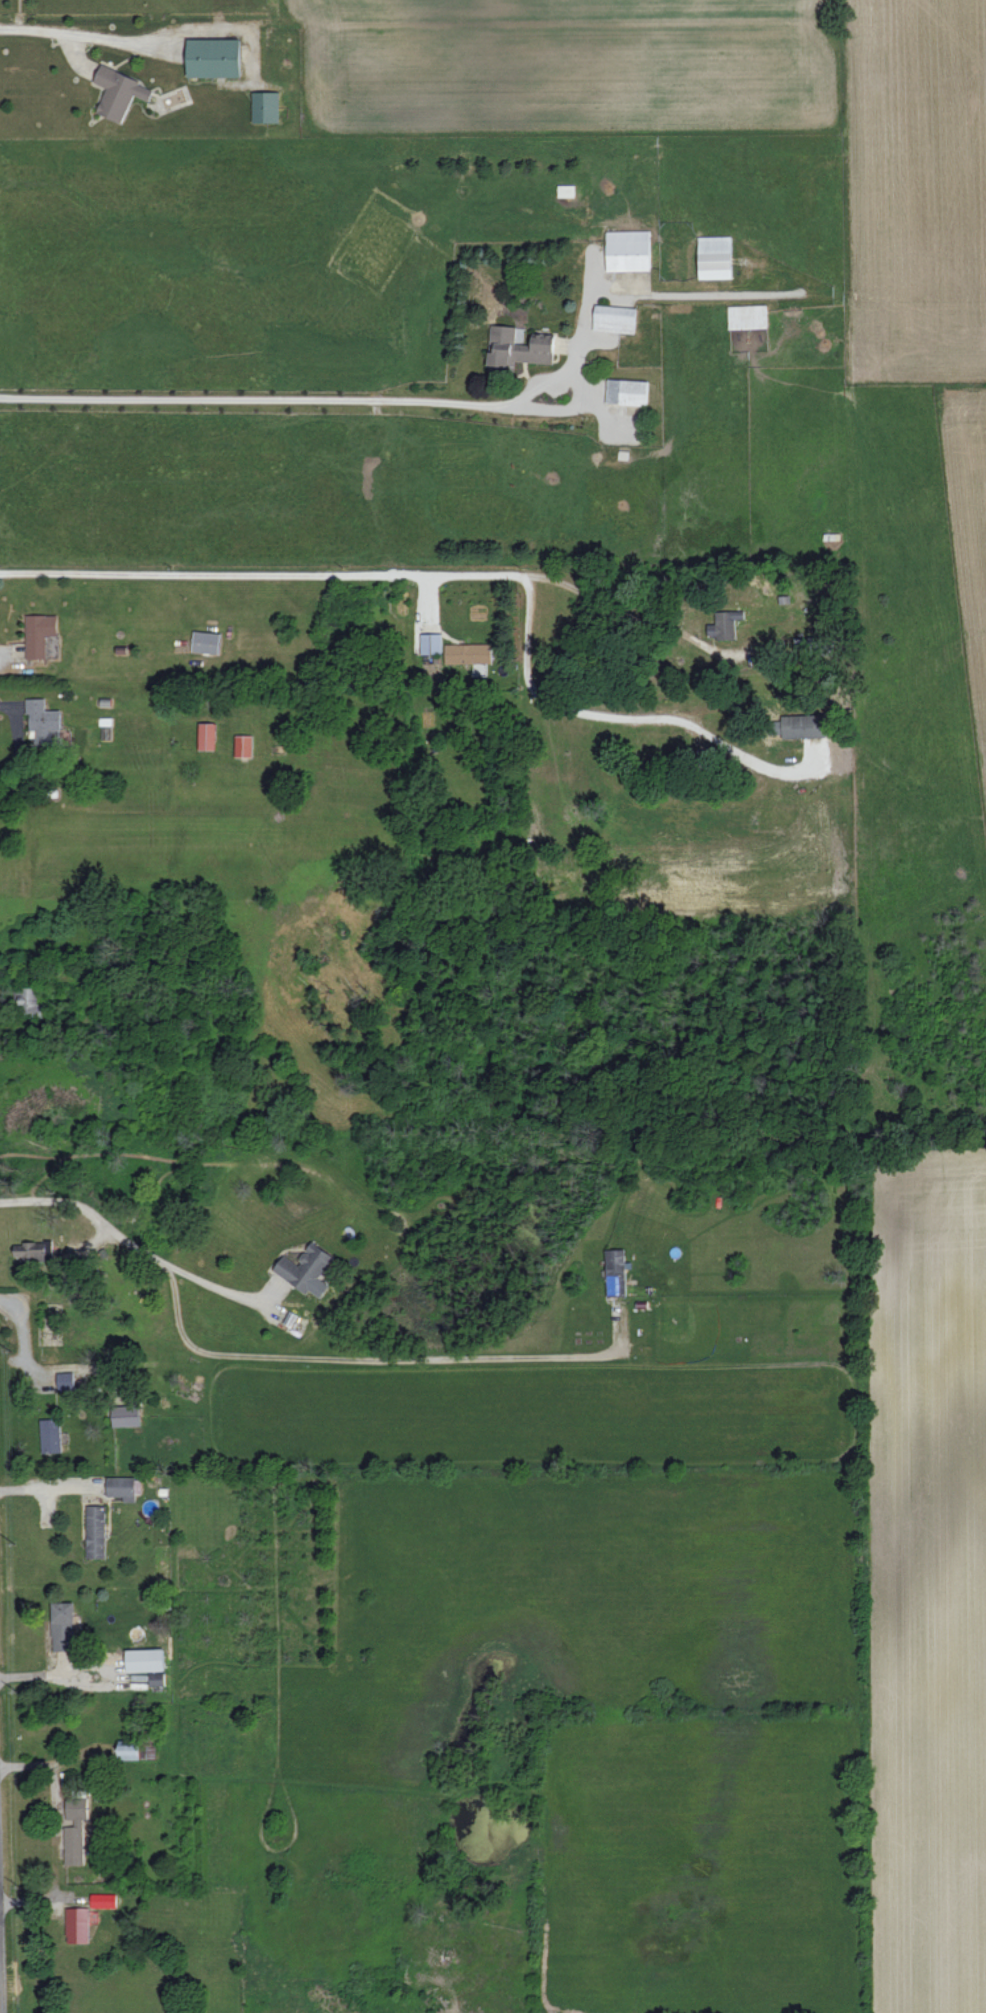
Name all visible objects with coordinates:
building: (214, 57)
building: (119, 93)
building: (266, 106)
building: (628, 250)
building: (715, 257)
road: (586, 314)
building: (748, 316)
building: (615, 318)
building: (518, 348)
road: (580, 389)
building: (627, 391)
road: (258, 398)
road: (266, 572)
road: (639, 618)
building: (724, 624)
building: (39, 634)
building: (206, 642)
building: (431, 643)
building: (469, 653)
road: (620, 718)
building: (43, 719)
building: (804, 725)
building: (208, 736)
building: (244, 745)
building: (31, 999)
building: (34, 1250)
building: (307, 1269)
building: (616, 1271)
building: (290, 1318)
road: (287, 1356)
building: (65, 1380)
building: (125, 1415)
building: (51, 1435)
building: (96, 1531)
building: (63, 1626)
building: (146, 1659)
building: (129, 1749)
building: (75, 1828)
building: (104, 1900)
building: (78, 1924)

